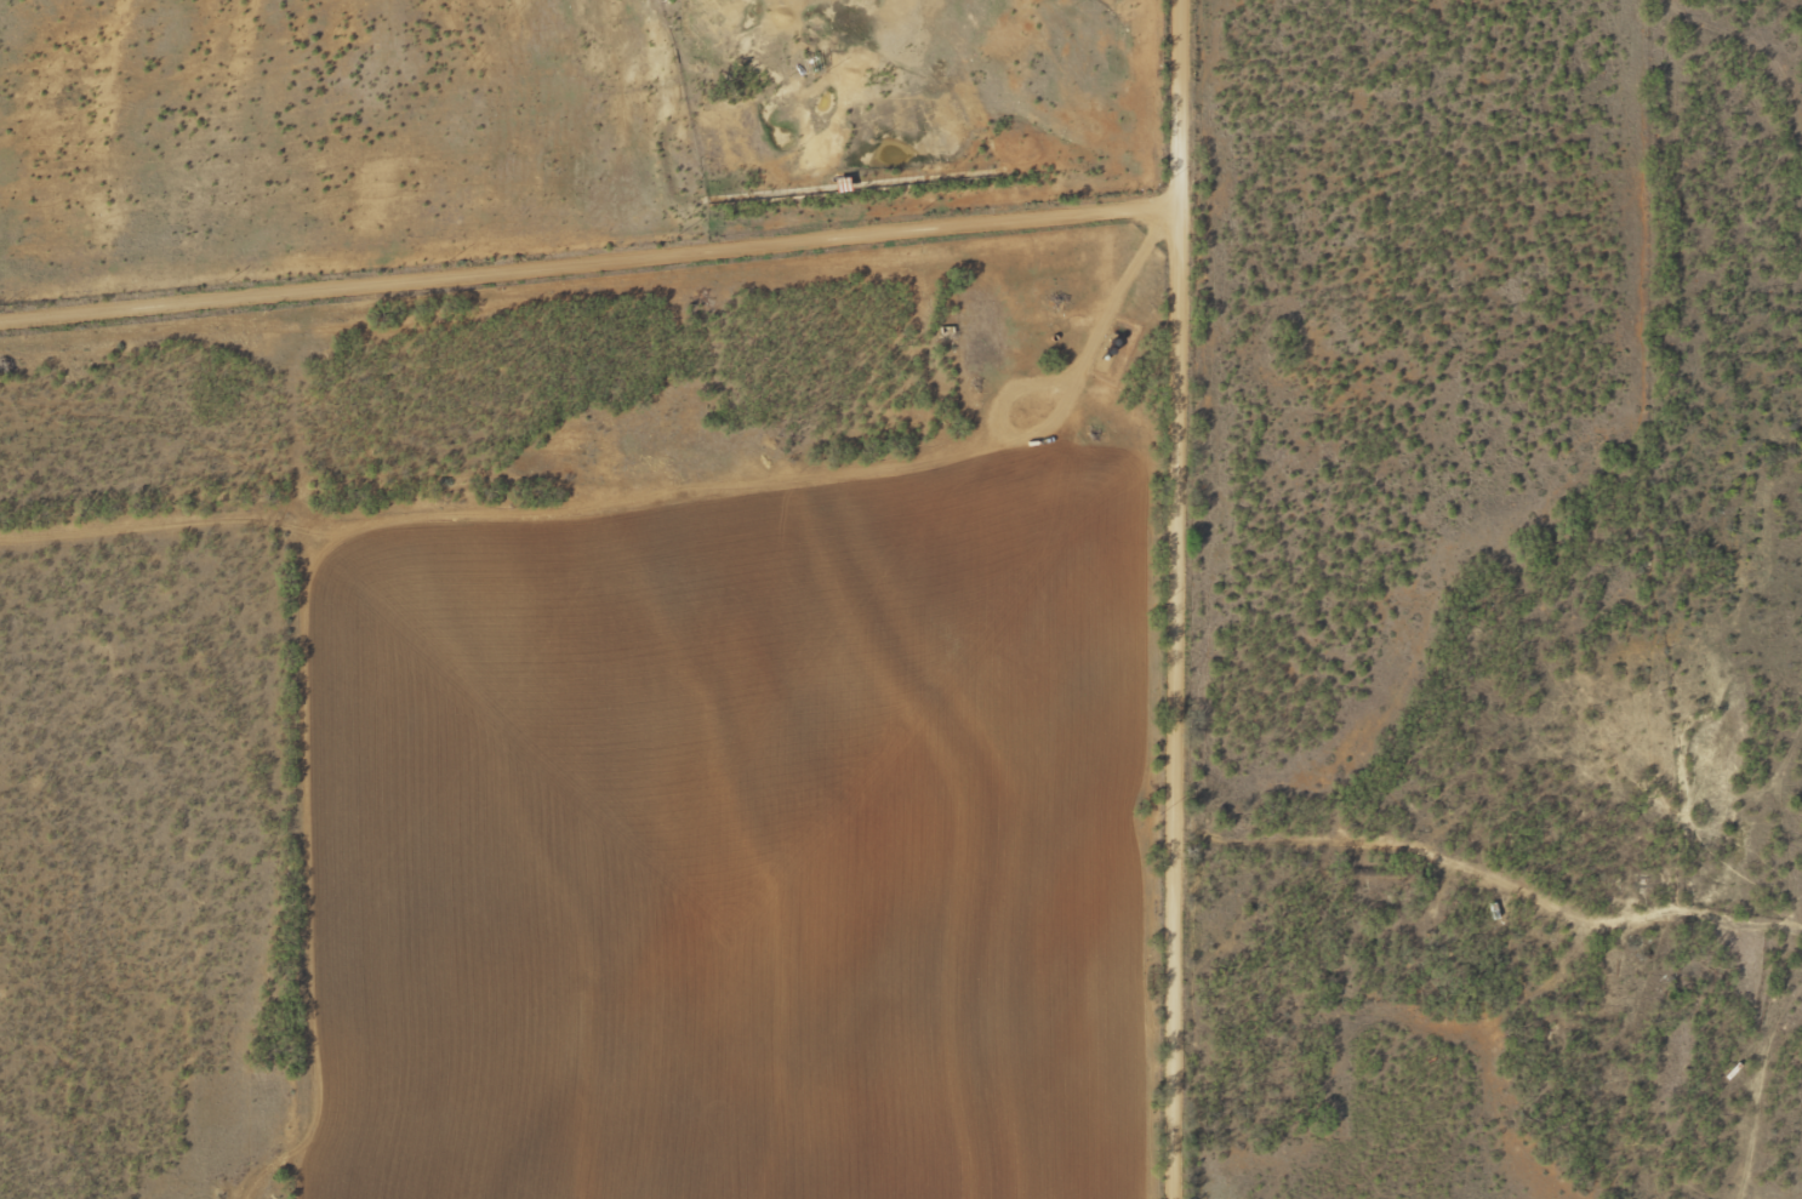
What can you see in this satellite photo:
building: (795, 10)
road: (1780, 11)
road: (1792, 55)
building: (804, 64)
road: (577, 310)
road: (1156, 726)
road: (1792, 737)
road: (1476, 858)
road: (1783, 942)

